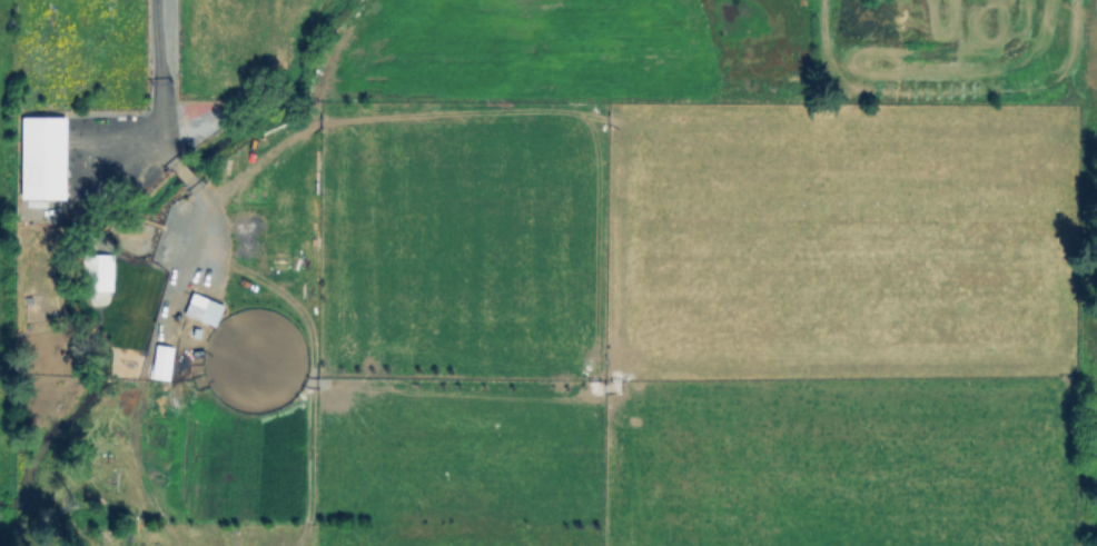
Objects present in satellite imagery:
crop: (62, 66)
road: (155, 82)
building: (123, 125)
building: (42, 157)
building: (98, 271)
building: (206, 310)
building: (161, 361)

